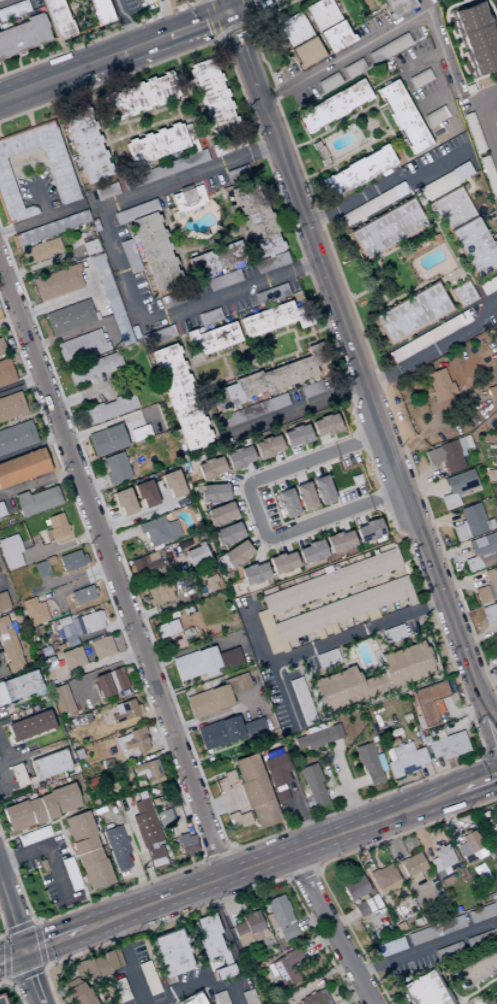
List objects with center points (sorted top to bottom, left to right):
road: (1, 0)
building: (142, 0)
road: (225, 6)
road: (243, 6)
building: (395, 6)
road: (166, 7)
building: (14, 10)
building: (102, 12)
traffic signals: (228, 13)
building: (58, 18)
road: (215, 19)
road: (81, 21)
road: (123, 24)
building: (326, 24)
road: (197, 25)
building: (24, 36)
road: (99, 38)
building: (298, 40)
building: (475, 40)
road: (221, 42)
road: (441, 48)
road: (127, 51)
road: (33, 55)
road: (28, 56)
road: (344, 57)
road: (17, 61)
road: (421, 63)
road: (1, 68)
road: (44, 82)
road: (435, 96)
building: (138, 97)
building: (211, 99)
building: (332, 106)
road: (194, 111)
road: (146, 115)
building: (402, 117)
road: (29, 118)
road: (484, 120)
road: (150, 126)
road: (103, 132)
building: (473, 134)
building: (84, 144)
building: (154, 145)
building: (227, 146)
building: (164, 170)
building: (357, 172)
building: (236, 174)
building: (488, 175)
building: (61, 178)
road: (384, 186)
building: (101, 194)
road: (38, 195)
building: (187, 199)
building: (372, 204)
building: (496, 208)
building: (134, 212)
road: (41, 219)
building: (255, 220)
building: (49, 228)
building: (386, 229)
building: (465, 230)
road: (227, 234)
road: (3, 241)
road: (175, 246)
building: (89, 247)
building: (153, 250)
building: (40, 251)
building: (129, 257)
building: (213, 260)
road: (42, 263)
building: (270, 263)
road: (118, 267)
building: (223, 281)
building: (57, 282)
building: (488, 285)
road: (93, 286)
building: (106, 288)
building: (270, 294)
building: (461, 294)
road: (56, 302)
building: (410, 313)
building: (208, 316)
building: (70, 317)
building: (273, 319)
road: (9, 320)
road: (80, 329)
building: (123, 332)
building: (427, 337)
building: (210, 338)
building: (81, 346)
road: (245, 346)
building: (2, 347)
road: (435, 350)
road: (270, 361)
road: (188, 364)
road: (225, 366)
building: (94, 367)
road: (359, 369)
building: (5, 372)
building: (266, 379)
road: (19, 381)
building: (438, 385)
building: (310, 389)
building: (491, 393)
building: (178, 396)
road: (76, 397)
building: (11, 405)
building: (109, 408)
building: (254, 409)
road: (285, 410)
building: (324, 424)
road: (89, 429)
building: (139, 433)
building: (295, 435)
building: (16, 436)
road: (333, 436)
building: (106, 440)
road: (330, 442)
road: (358, 442)
road: (30, 446)
building: (266, 446)
road: (304, 447)
road: (81, 448)
road: (295, 453)
building: (447, 454)
building: (237, 456)
road: (268, 460)
road: (279, 460)
building: (22, 466)
building: (208, 467)
road: (314, 467)
building: (115, 468)
building: (496, 468)
road: (250, 470)
road: (297, 473)
road: (232, 479)
road: (328, 479)
building: (355, 479)
road: (37, 480)
road: (279, 480)
road: (222, 481)
road: (93, 482)
building: (171, 484)
building: (456, 488)
building: (321, 489)
road: (236, 490)
road: (268, 490)
building: (212, 492)
building: (144, 493)
road: (384, 494)
road: (228, 495)
building: (303, 496)
building: (36, 500)
road: (7, 502)
building: (122, 502)
building: (286, 502)
road: (240, 504)
road: (328, 504)
road: (388, 510)
building: (1, 511)
road: (311, 511)
building: (219, 513)
road: (246, 515)
road: (355, 516)
road: (367, 516)
road: (236, 517)
road: (257, 517)
road: (293, 517)
road: (247, 522)
building: (470, 523)
building: (52, 528)
road: (331, 529)
building: (158, 530)
building: (368, 530)
building: (226, 534)
road: (119, 536)
road: (243, 536)
road: (298, 537)
road: (310, 537)
road: (255, 539)
building: (338, 541)
road: (282, 543)
road: (60, 547)
road: (260, 549)
road: (274, 550)
building: (9, 551)
building: (310, 551)
building: (481, 552)
building: (194, 554)
building: (235, 554)
building: (83, 558)
building: (48, 560)
building: (69, 560)
road: (251, 562)
building: (281, 562)
building: (144, 563)
building: (40, 568)
building: (68, 571)
road: (112, 571)
building: (252, 573)
road: (385, 574)
road: (74, 576)
road: (1, 580)
building: (209, 582)
road: (73, 585)
road: (355, 586)
building: (487, 587)
road: (6, 589)
building: (32, 590)
road: (346, 591)
building: (159, 593)
road: (335, 593)
building: (82, 594)
road: (316, 600)
building: (364, 600)
building: (3, 601)
road: (59, 601)
building: (198, 606)
road: (157, 609)
building: (185, 610)
building: (33, 611)
road: (285, 612)
building: (489, 613)
building: (62, 621)
building: (91, 621)
building: (165, 628)
building: (186, 632)
road: (254, 633)
building: (392, 633)
road: (83, 637)
road: (405, 637)
road: (324, 643)
road: (161, 645)
building: (495, 645)
building: (9, 647)
building: (101, 647)
road: (192, 651)
building: (72, 658)
building: (227, 658)
building: (327, 658)
road: (435, 659)
building: (195, 663)
building: (46, 665)
road: (92, 665)
road: (95, 672)
building: (118, 677)
building: (371, 678)
road: (188, 681)
road: (196, 682)
building: (236, 683)
building: (20, 685)
building: (101, 685)
road: (198, 685)
road: (381, 696)
building: (2, 698)
building: (61, 699)
building: (208, 701)
building: (302, 701)
building: (428, 703)
building: (137, 708)
road: (461, 710)
road: (3, 711)
building: (123, 711)
road: (212, 718)
building: (28, 726)
road: (120, 726)
building: (252, 728)
building: (140, 730)
building: (218, 732)
road: (157, 733)
building: (25, 737)
building: (317, 737)
road: (239, 740)
building: (134, 741)
building: (145, 746)
road: (223, 746)
building: (448, 746)
road: (212, 749)
road: (218, 750)
road: (3, 752)
road: (484, 755)
road: (12, 758)
building: (405, 760)
road: (491, 760)
building: (106, 763)
building: (370, 763)
building: (48, 764)
building: (148, 771)
building: (17, 774)
road: (443, 775)
building: (276, 776)
road: (3, 779)
road: (430, 780)
road: (495, 780)
building: (92, 781)
building: (225, 781)
road: (474, 782)
building: (313, 784)
road: (345, 787)
road: (346, 787)
building: (254, 791)
road: (271, 793)
building: (63, 798)
building: (93, 802)
road: (219, 804)
building: (46, 806)
building: (34, 811)
road: (300, 814)
building: (16, 816)
road: (61, 817)
building: (238, 819)
road: (446, 820)
building: (78, 827)
road: (30, 830)
road: (51, 833)
road: (418, 833)
building: (495, 837)
road: (387, 839)
building: (186, 843)
building: (83, 845)
building: (471, 845)
building: (116, 846)
road: (48, 847)
road: (141, 849)
road: (230, 849)
road: (358, 850)
road: (217, 856)
building: (86, 857)
building: (155, 857)
road: (334, 857)
road: (204, 859)
road: (268, 859)
road: (190, 860)
building: (441, 860)
road: (73, 862)
road: (135, 864)
road: (317, 867)
building: (412, 867)
road: (299, 870)
road: (236, 872)
building: (96, 874)
building: (383, 876)
road: (284, 878)
road: (211, 880)
building: (356, 894)
road: (226, 901)
building: (496, 901)
road: (213, 902)
building: (365, 906)
road: (79, 907)
building: (404, 909)
building: (481, 913)
road: (13, 914)
building: (281, 916)
road: (342, 919)
road: (34, 920)
road: (309, 920)
building: (450, 925)
road: (3, 926)
road: (19, 927)
road: (330, 928)
building: (249, 929)
road: (4, 932)
building: (208, 936)
building: (421, 936)
road: (53, 939)
building: (479, 940)
road: (39, 944)
road: (313, 944)
building: (390, 947)
road: (426, 947)
traffic signals: (23, 951)
building: (448, 951)
building: (169, 953)
road: (200, 954)
road: (11, 955)
road: (5, 956)
building: (116, 957)
building: (107, 961)
road: (45, 967)
building: (97, 967)
building: (255, 968)
building: (476, 968)
building: (86, 969)
building: (284, 969)
building: (270, 970)
building: (223, 972)
road: (238, 972)
road: (26, 973)
building: (249, 974)
road: (133, 975)
building: (148, 977)
road: (29, 978)
road: (316, 980)
road: (6, 981)
road: (14, 988)
building: (424, 989)
building: (120, 990)
building: (73, 991)
road: (232, 994)
building: (495, 995)
building: (101, 996)
building: (323, 996)
building: (219, 997)
building: (248, 997)
road: (352, 997)
building: (3, 998)
building: (82, 998)
building: (312, 998)
building: (192, 999)

